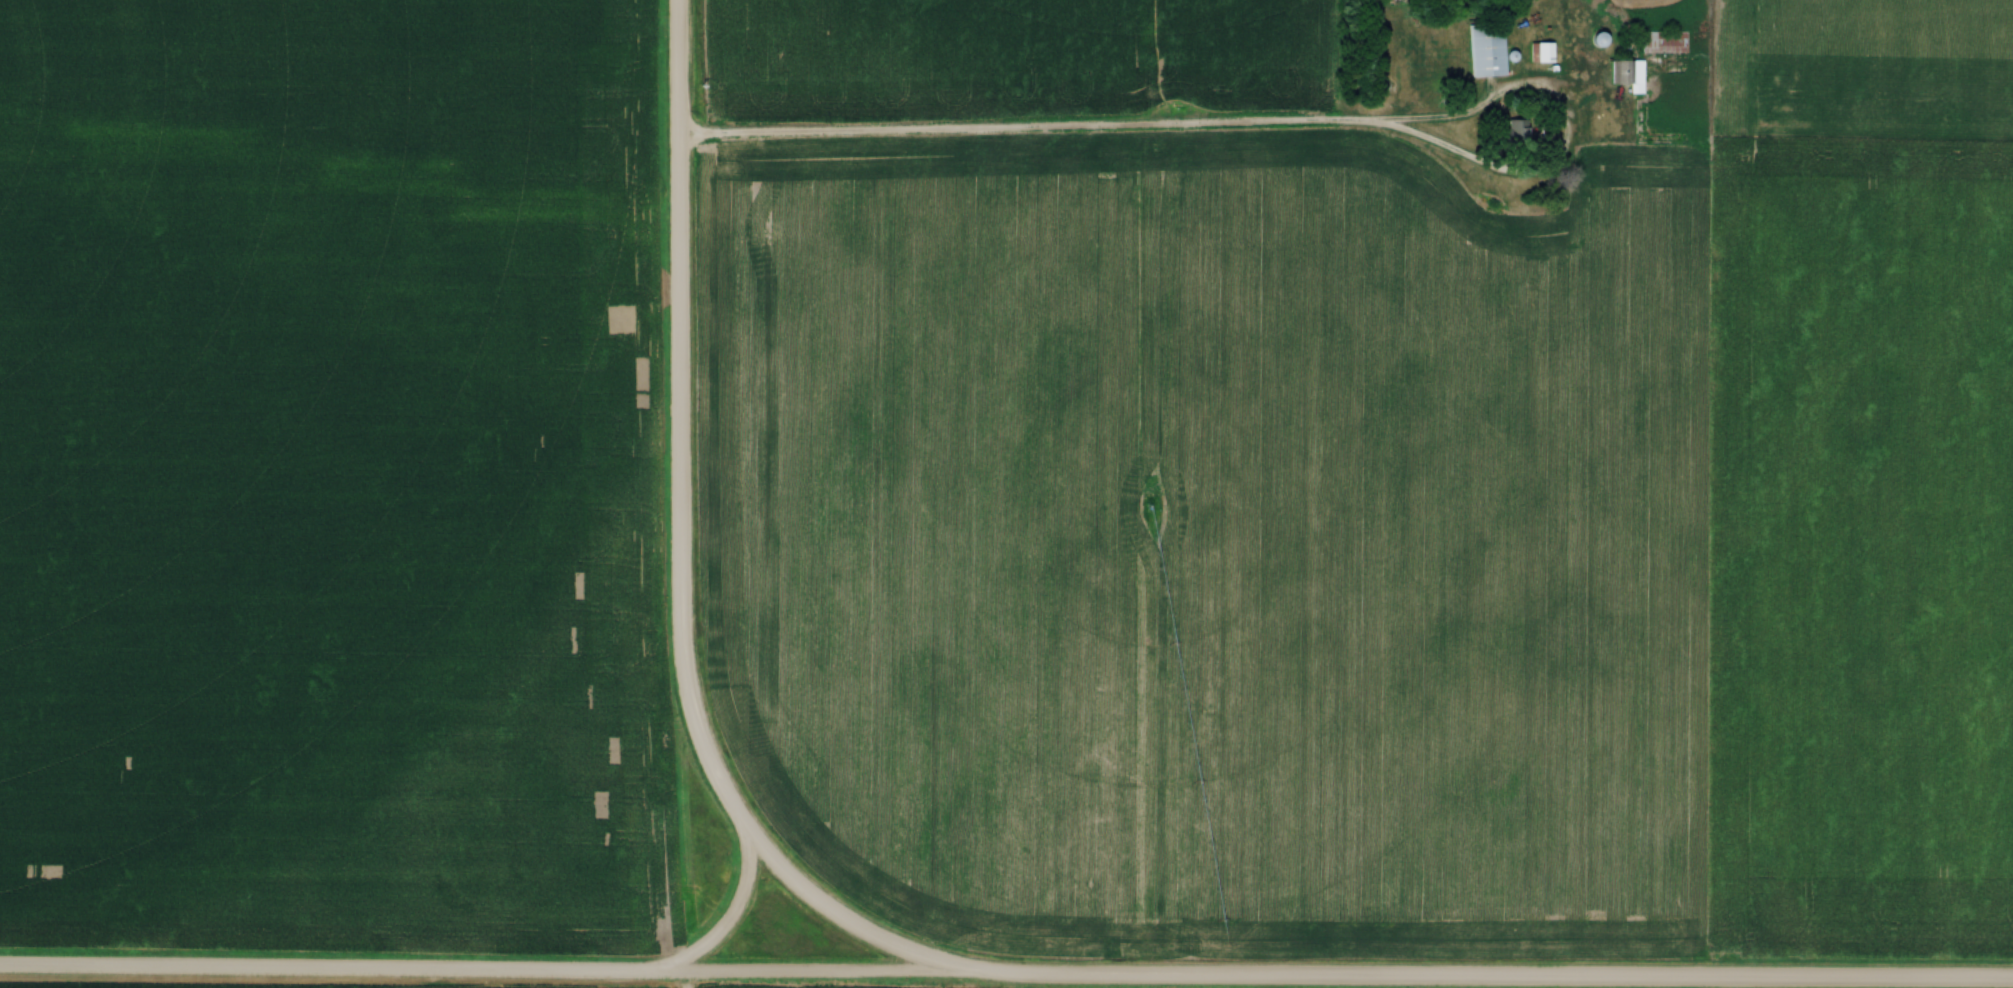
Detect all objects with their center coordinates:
building: (1667, 43)
building: (1490, 51)
building: (1543, 54)
building: (1631, 76)
road: (1032, 132)
road: (1514, 168)
road: (679, 551)
road: (726, 921)
road: (475, 974)
road: (1482, 982)

